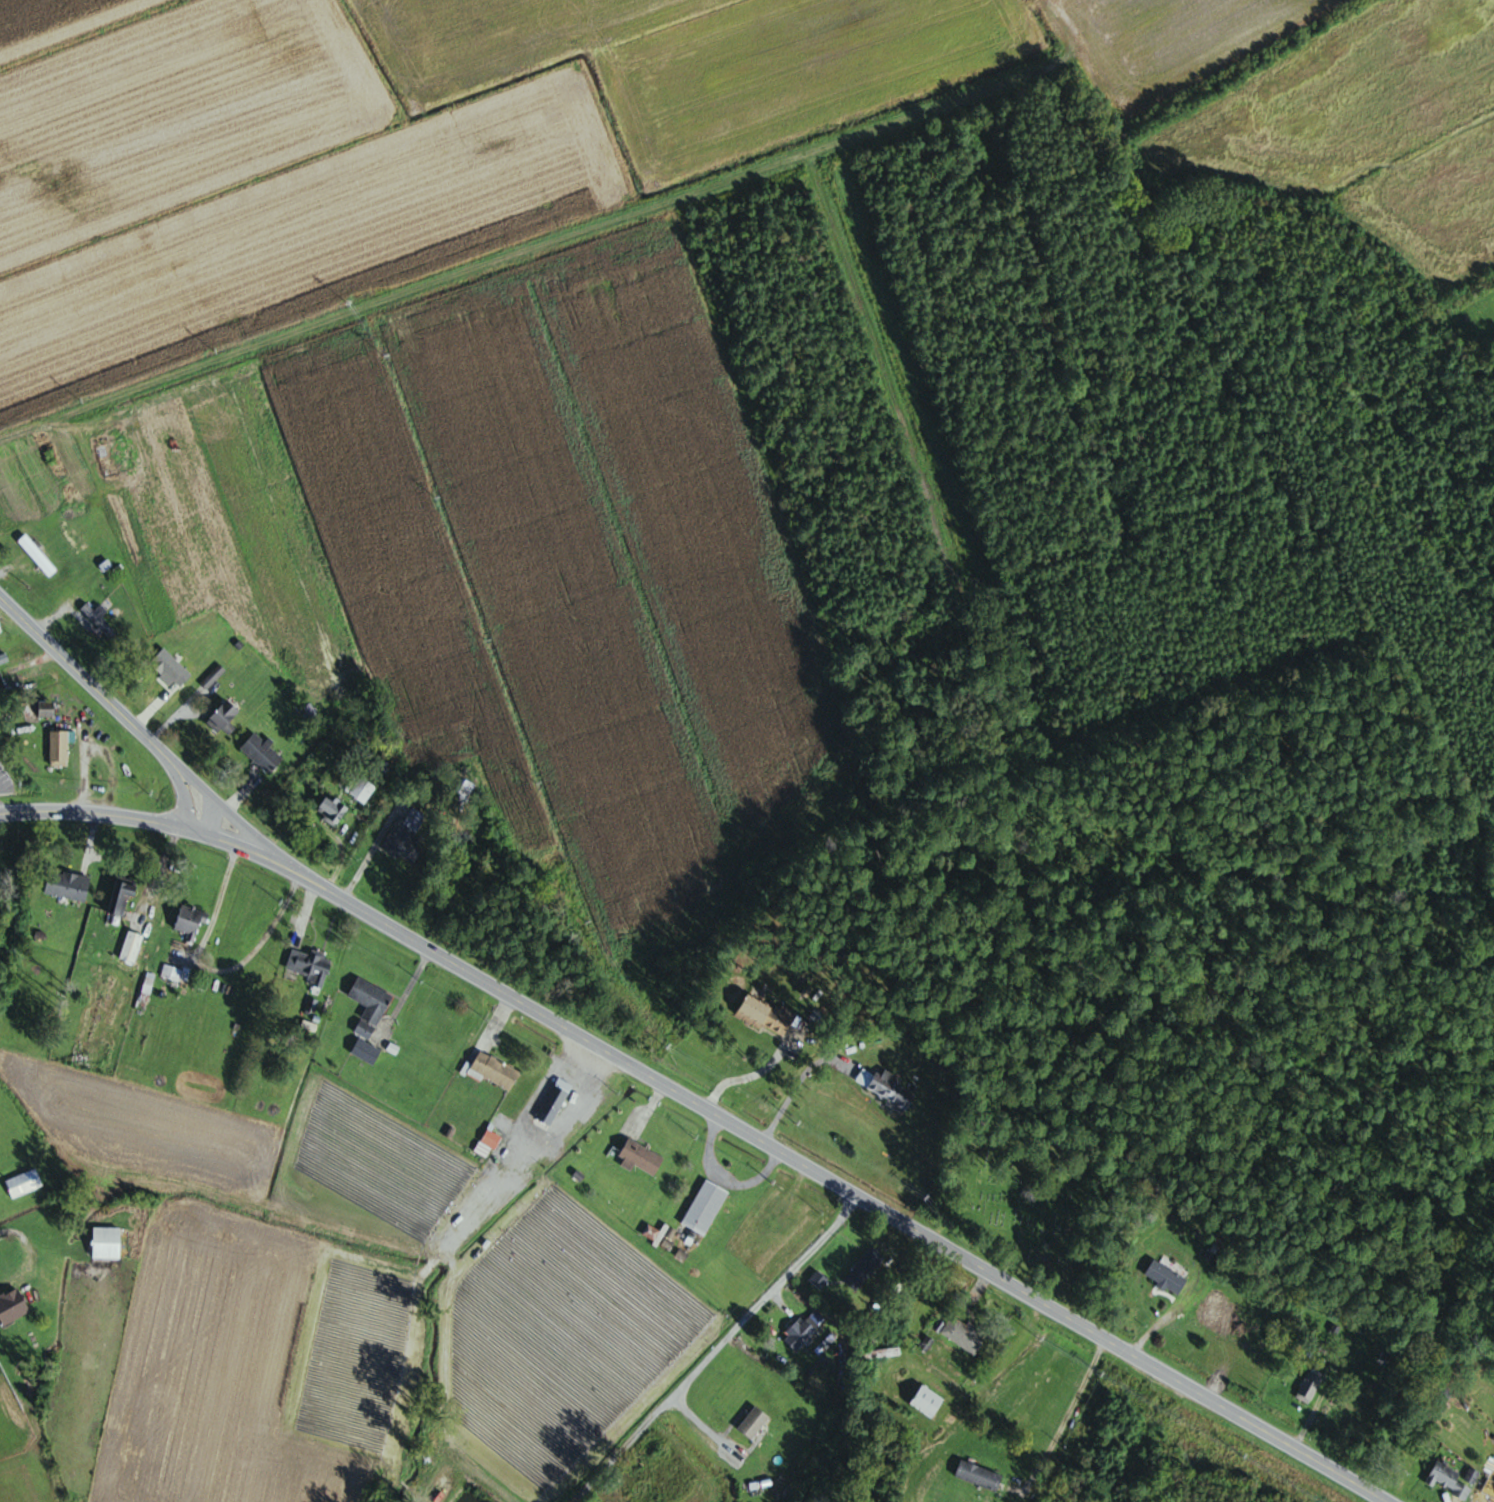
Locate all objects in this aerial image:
building: (38, 556)
building: (99, 619)
building: (3, 658)
building: (178, 673)
building: (213, 676)
building: (46, 708)
building: (224, 718)
building: (60, 746)
building: (262, 753)
building: (357, 786)
building: (462, 794)
building: (332, 810)
road: (208, 813)
road: (150, 820)
building: (405, 836)
building: (67, 885)
building: (122, 898)
building: (190, 922)
building: (131, 947)
building: (310, 967)
building: (171, 974)
building: (147, 988)
building: (237, 992)
building: (369, 1007)
building: (765, 1016)
building: (366, 1052)
building: (495, 1070)
road: (742, 1076)
road: (790, 1089)
building: (890, 1090)
road: (659, 1094)
building: (640, 1158)
building: (24, 1183)
building: (609, 1185)
building: (705, 1207)
building: (650, 1234)
building: (107, 1243)
building: (864, 1269)
building: (1166, 1277)
building: (818, 1280)
building: (52, 1282)
building: (12, 1307)
building: (804, 1329)
building: (964, 1334)
road: (710, 1351)
building: (886, 1352)
building: (1309, 1387)
building: (927, 1402)
road: (1063, 1416)
building: (754, 1422)
building: (979, 1476)
building: (1471, 1476)
building: (1448, 1480)
building: (1488, 1498)

